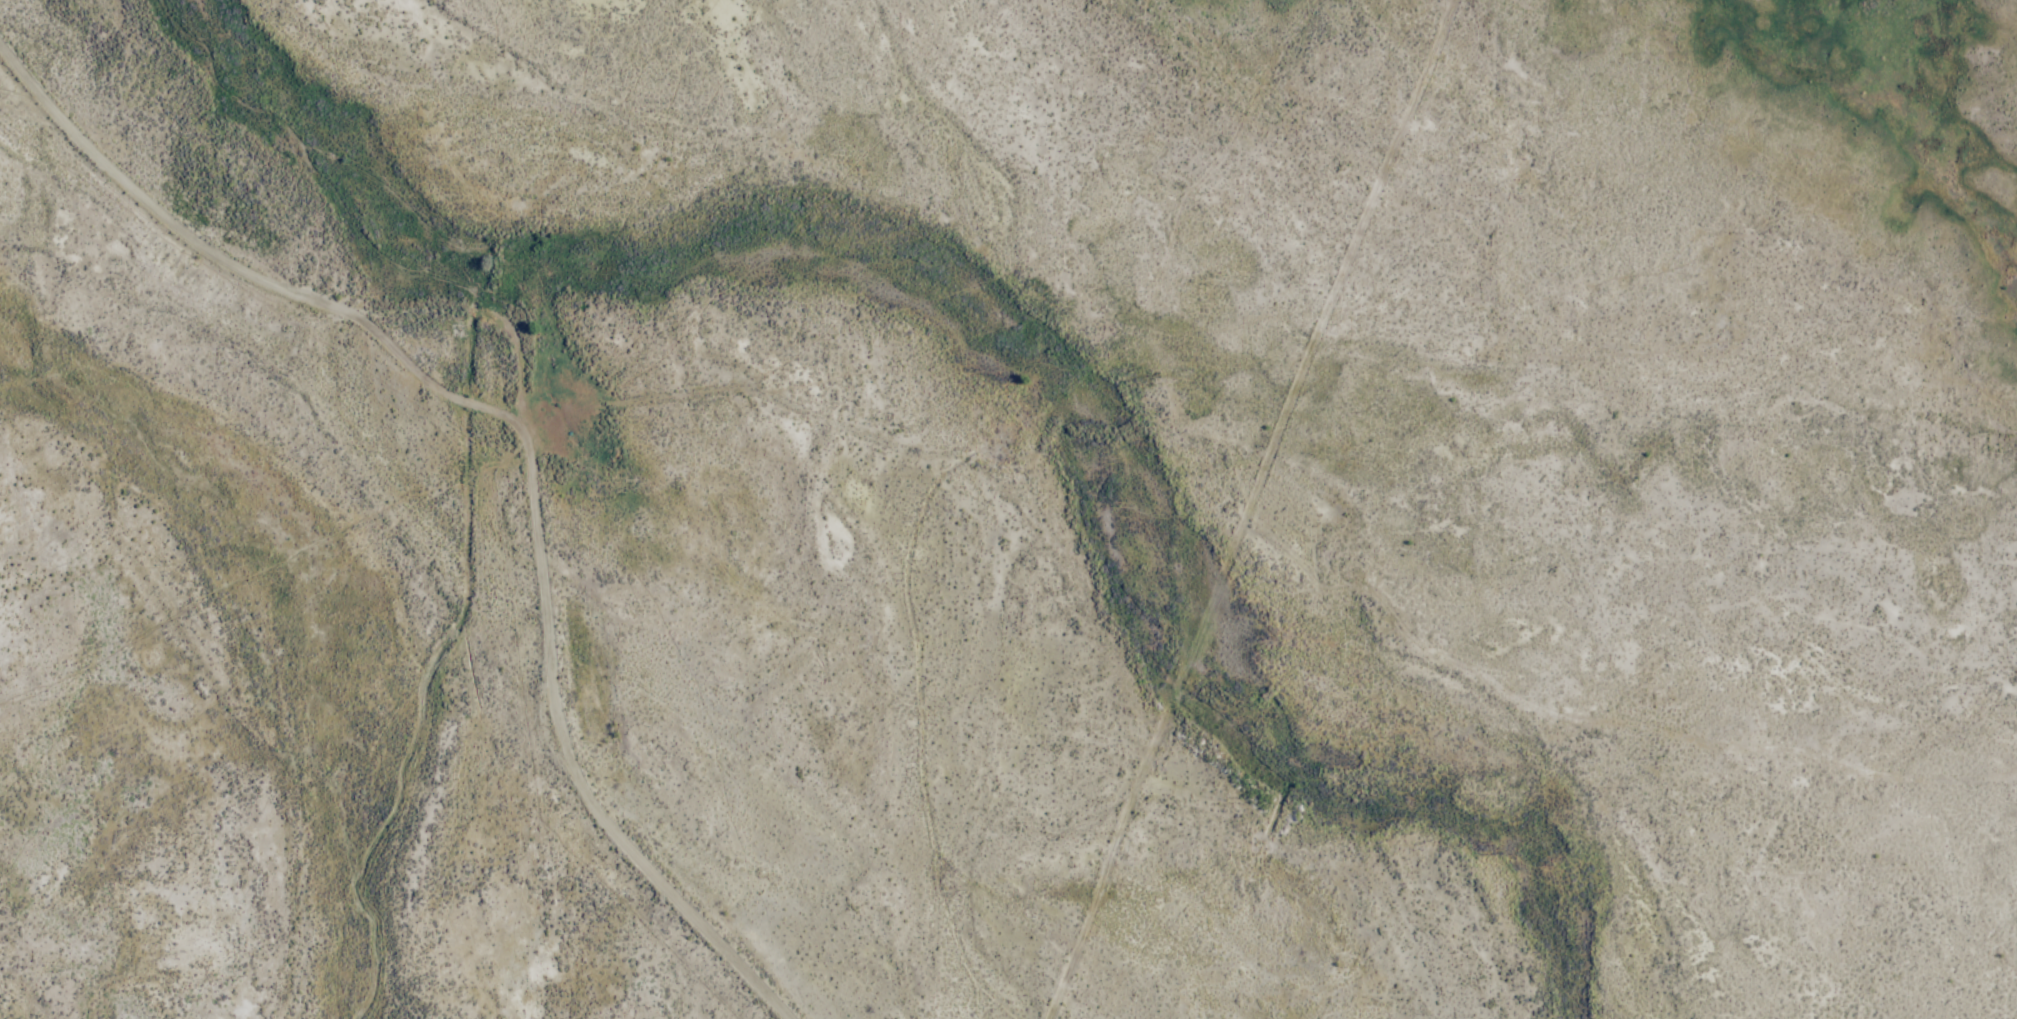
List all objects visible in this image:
road: (510, 445)
road: (1227, 523)

